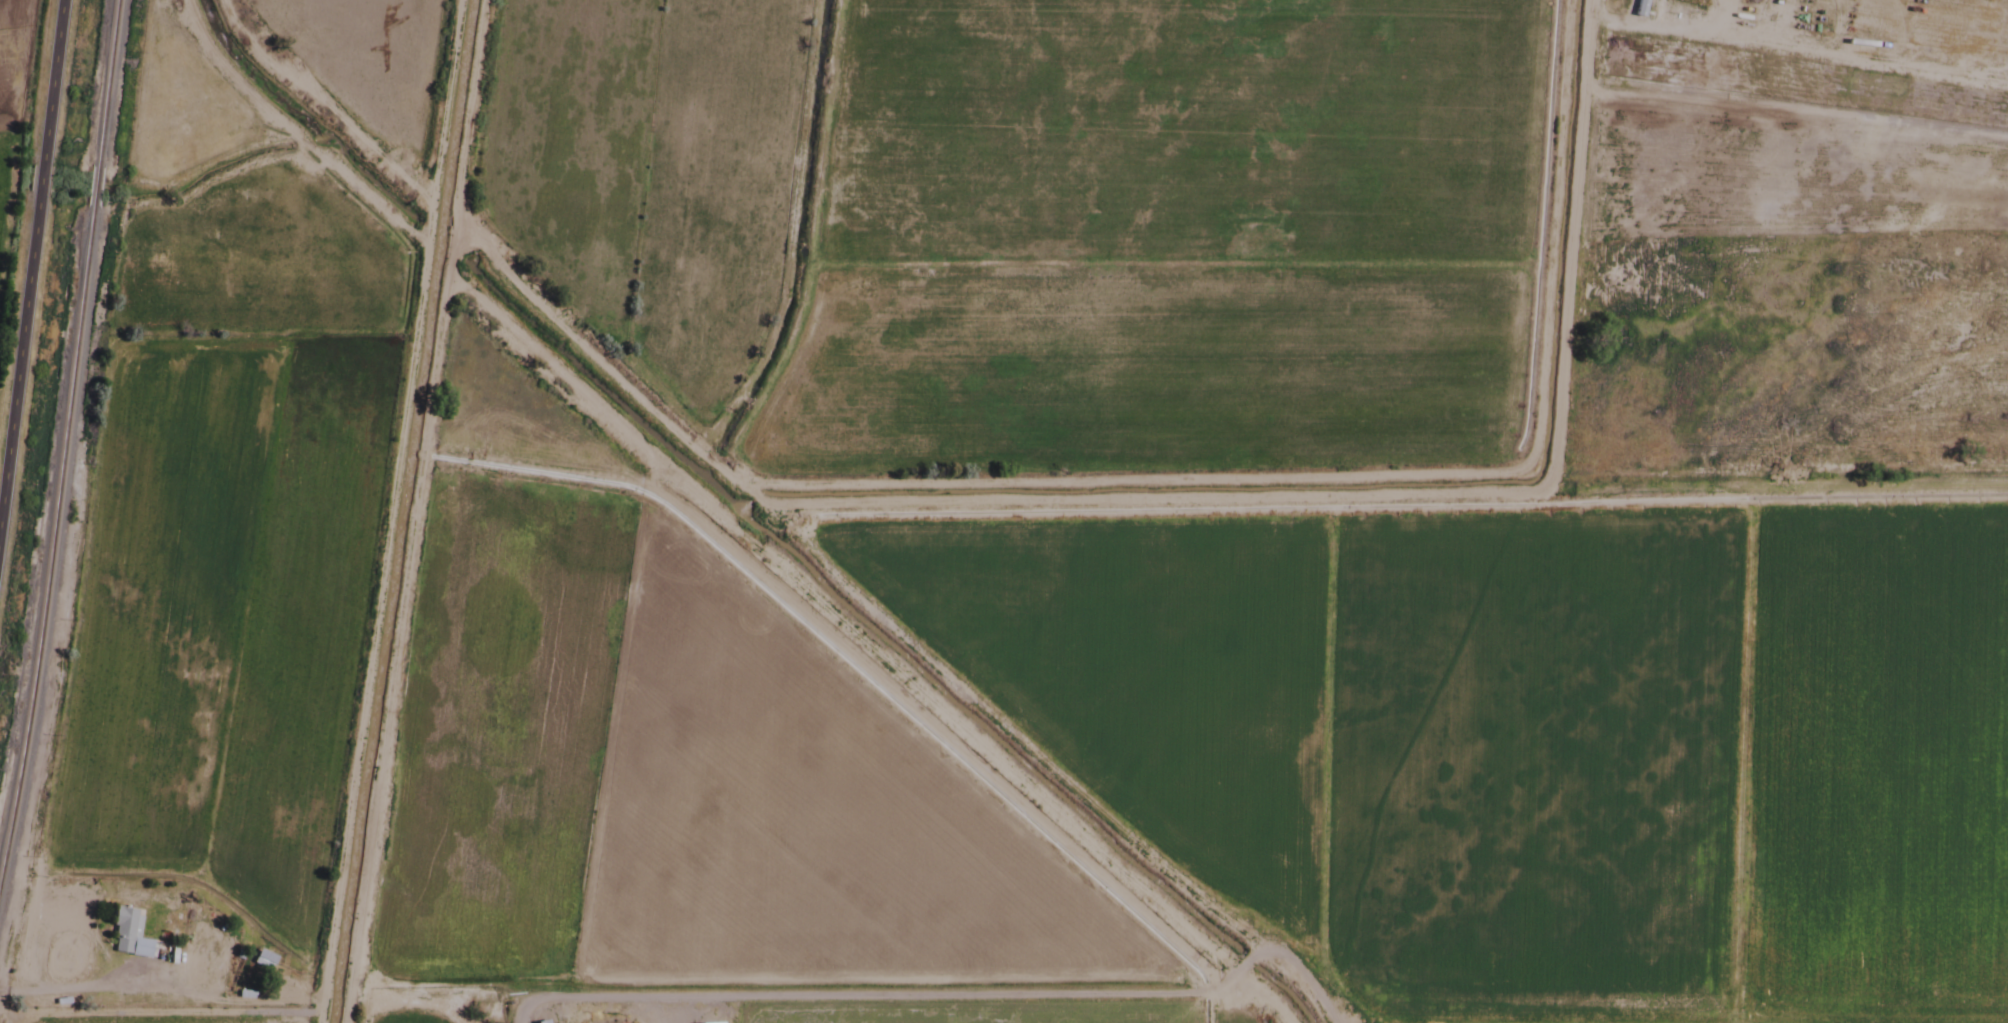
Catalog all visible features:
railway: (104, 83)
railway: (92, 187)
road: (1578, 235)
road: (30, 250)
road: (957, 500)
railway: (51, 539)
building: (128, 934)
building: (262, 960)
road: (1065, 993)
road: (626, 995)
building: (542, 1022)

